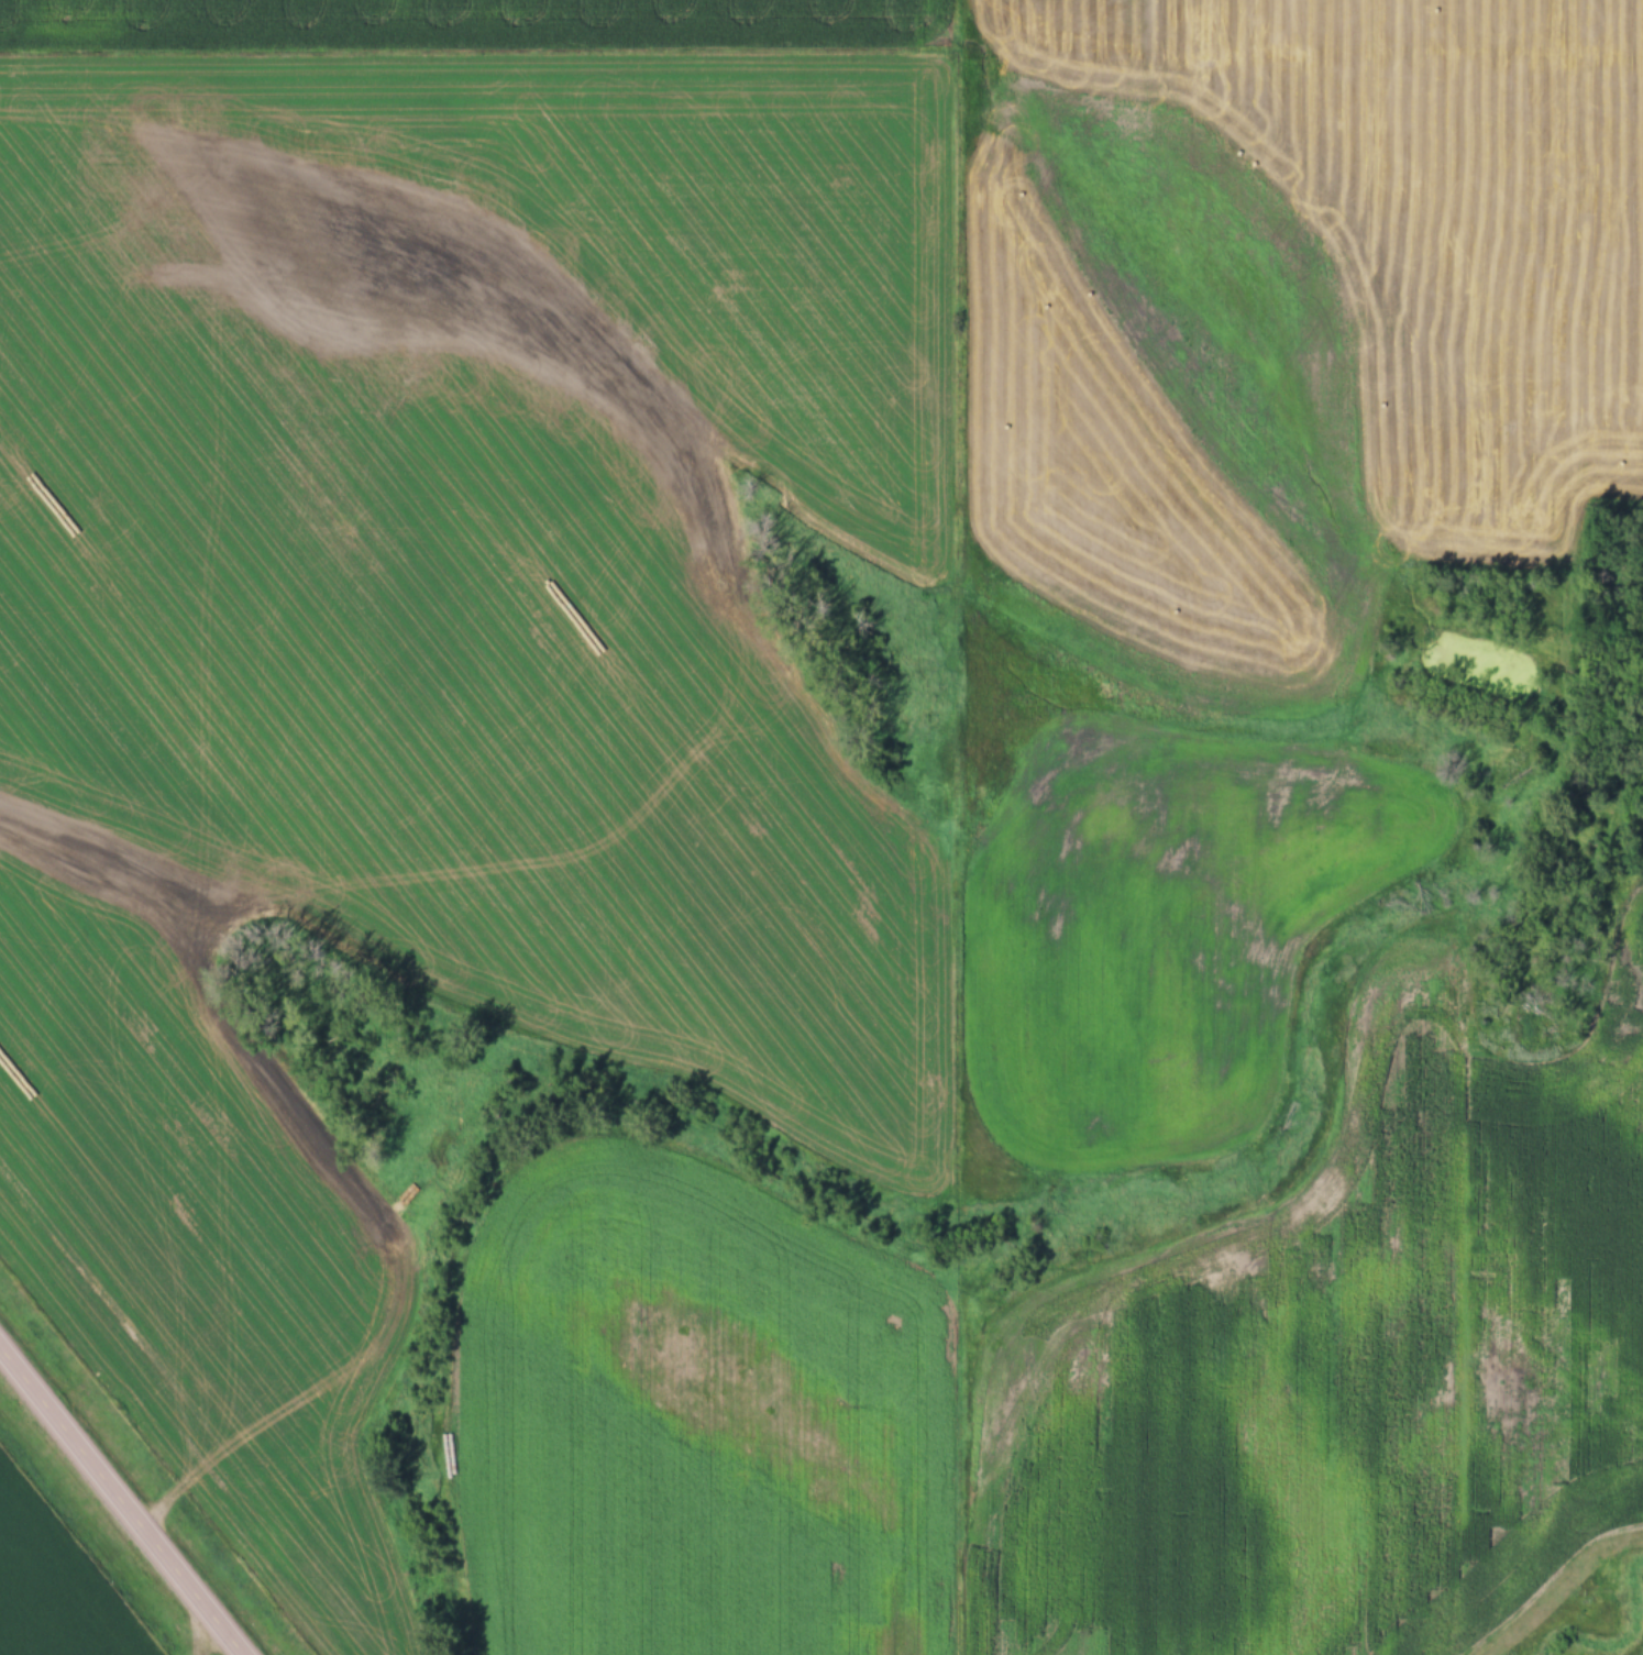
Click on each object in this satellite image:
road: (123, 1499)

